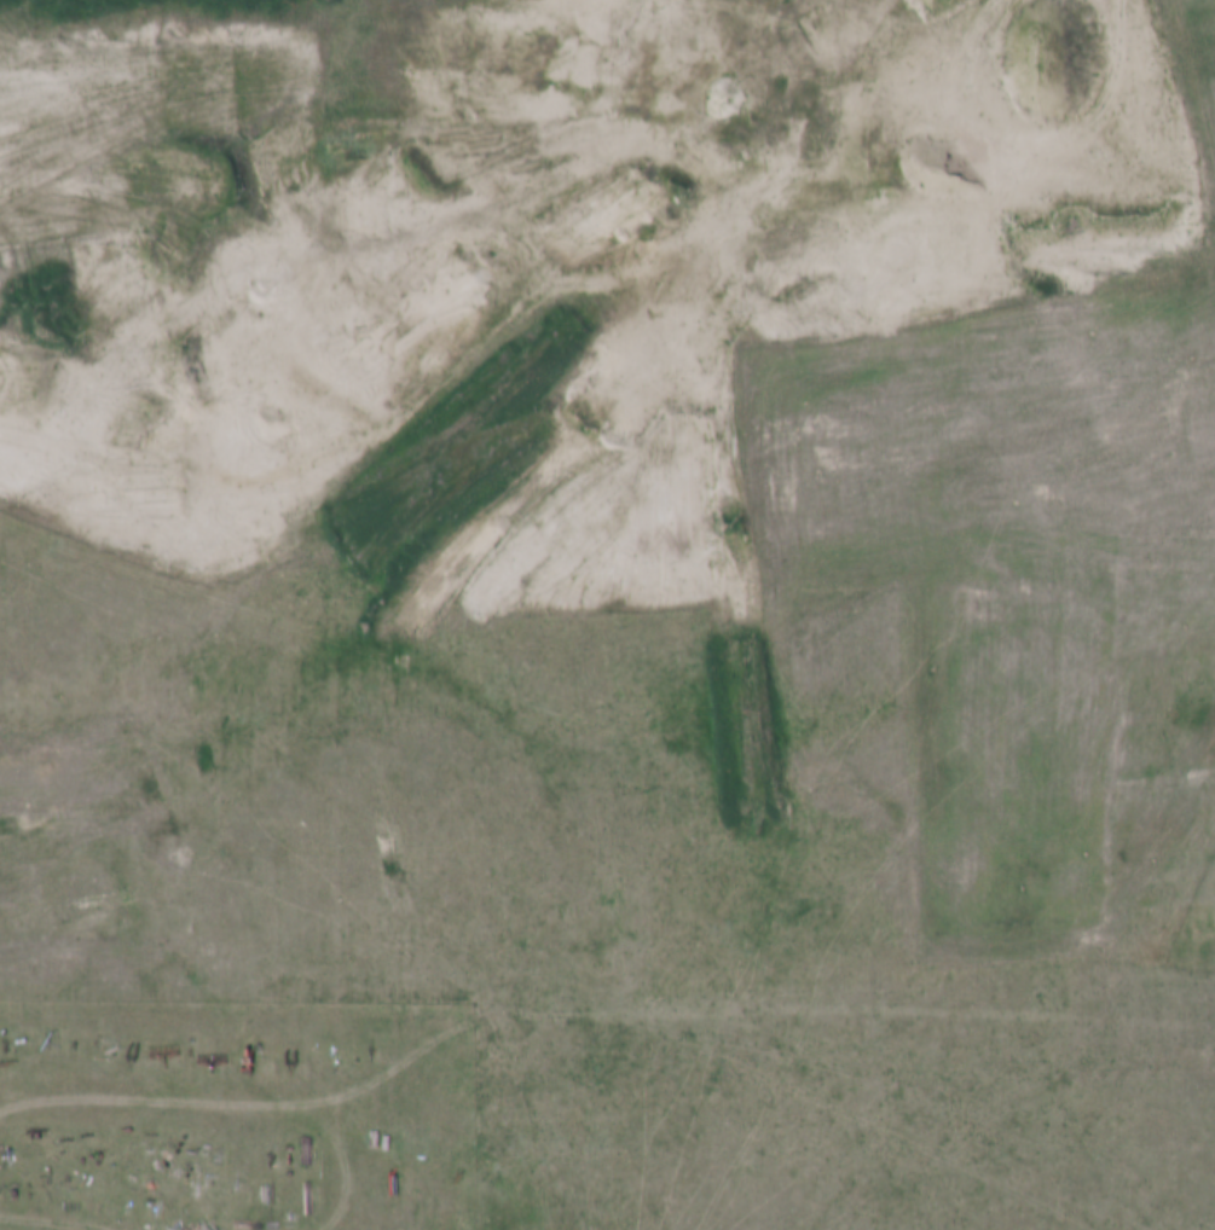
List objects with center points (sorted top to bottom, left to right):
quarry: (1196, 43)
quarry: (1025, 558)

